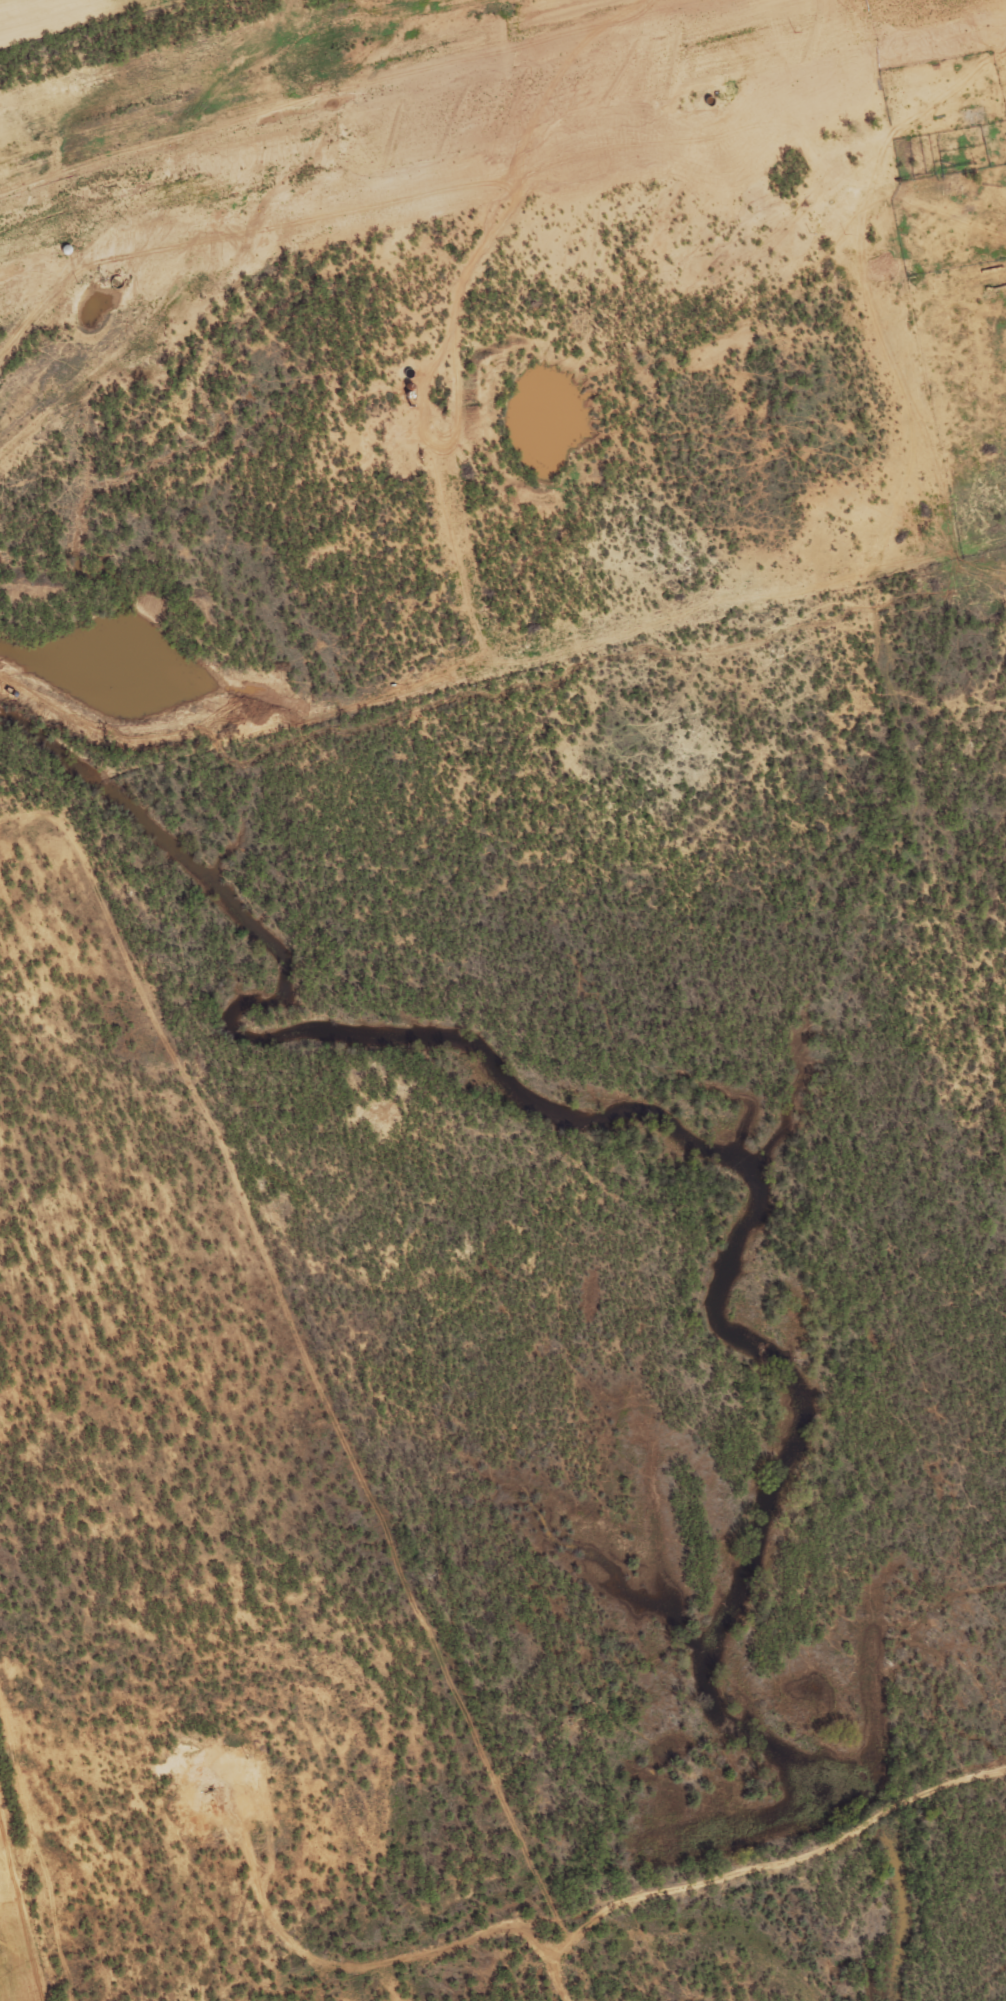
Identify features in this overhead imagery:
road: (903, 568)
road: (95, 1084)
road: (23, 1897)
road: (693, 1908)

